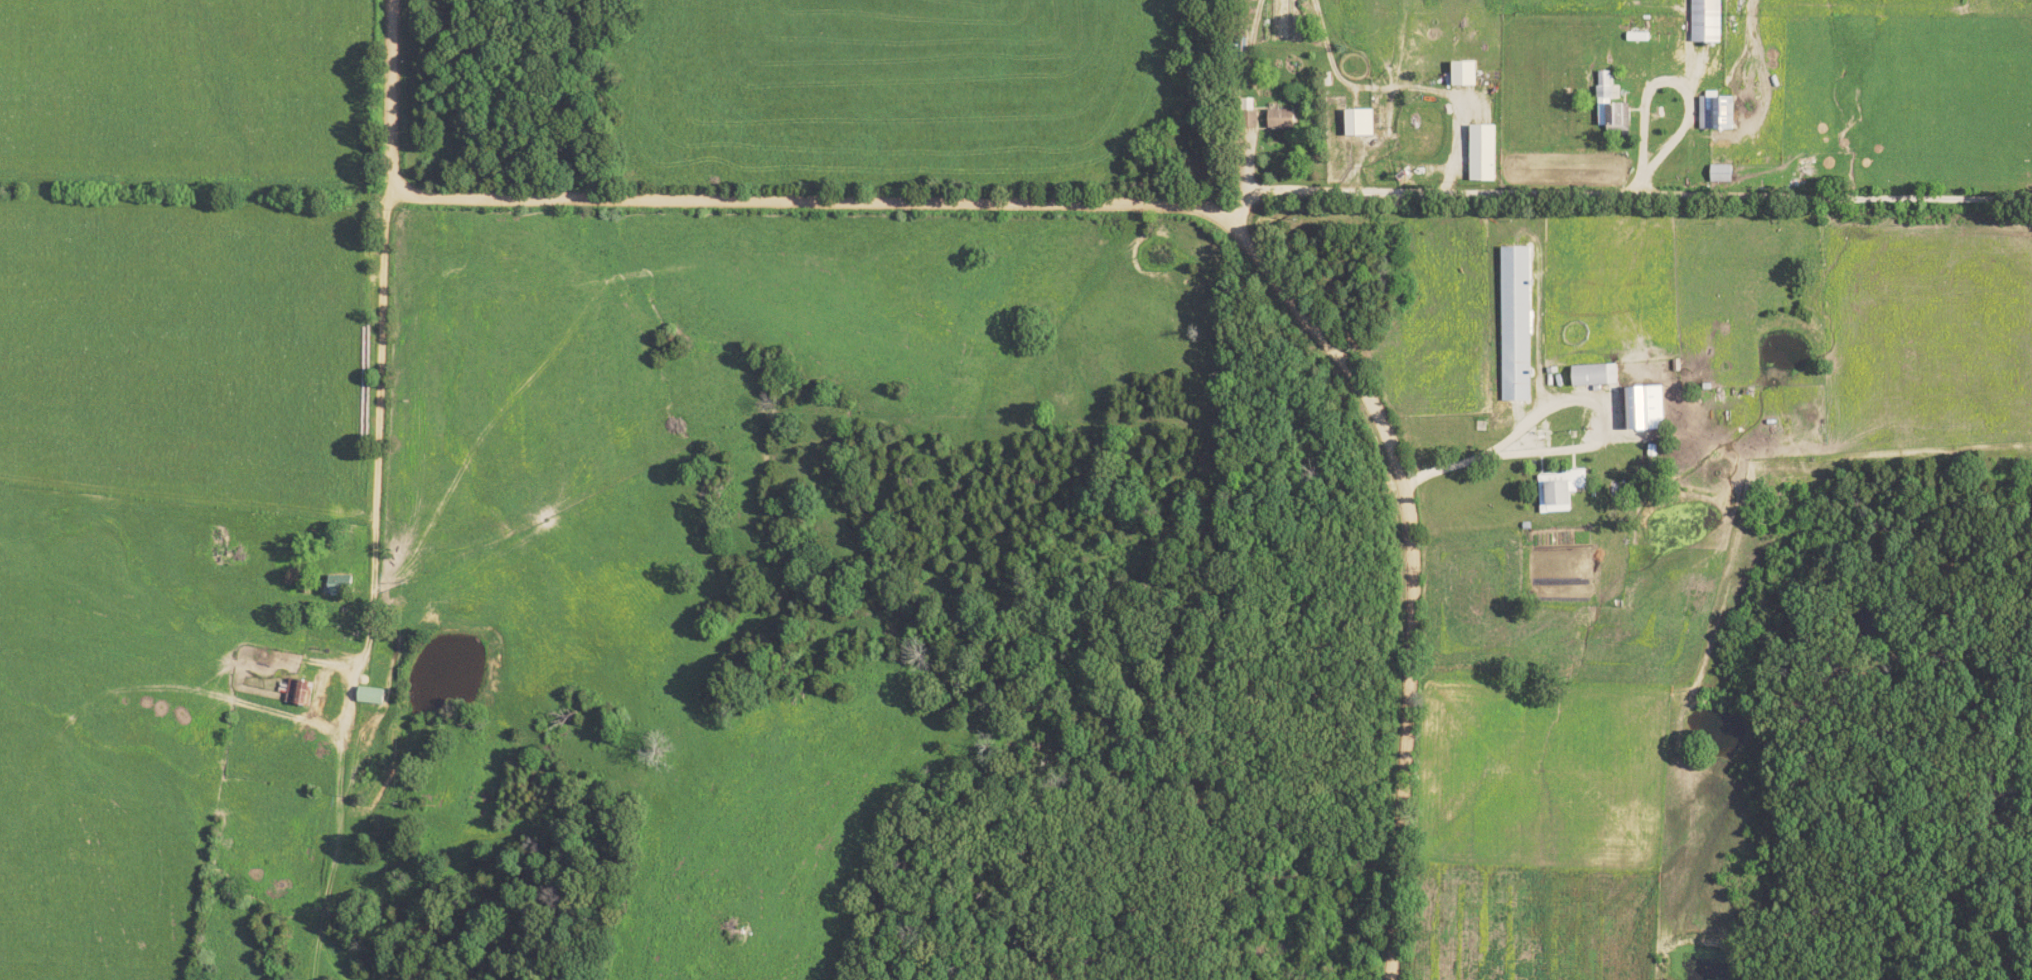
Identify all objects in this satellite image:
building: (1704, 21)
building: (1470, 74)
road: (1637, 95)
building: (1608, 104)
building: (1714, 113)
building: (1286, 119)
building: (1364, 123)
building: (1487, 153)
road: (1349, 167)
building: (1719, 174)
road: (1630, 176)
road: (1241, 182)
road: (1636, 195)
road: (1125, 202)
building: (1519, 324)
building: (1598, 374)
road: (1566, 402)
building: (1650, 407)
road: (373, 487)
building: (1564, 487)
building: (303, 692)
building: (375, 695)

